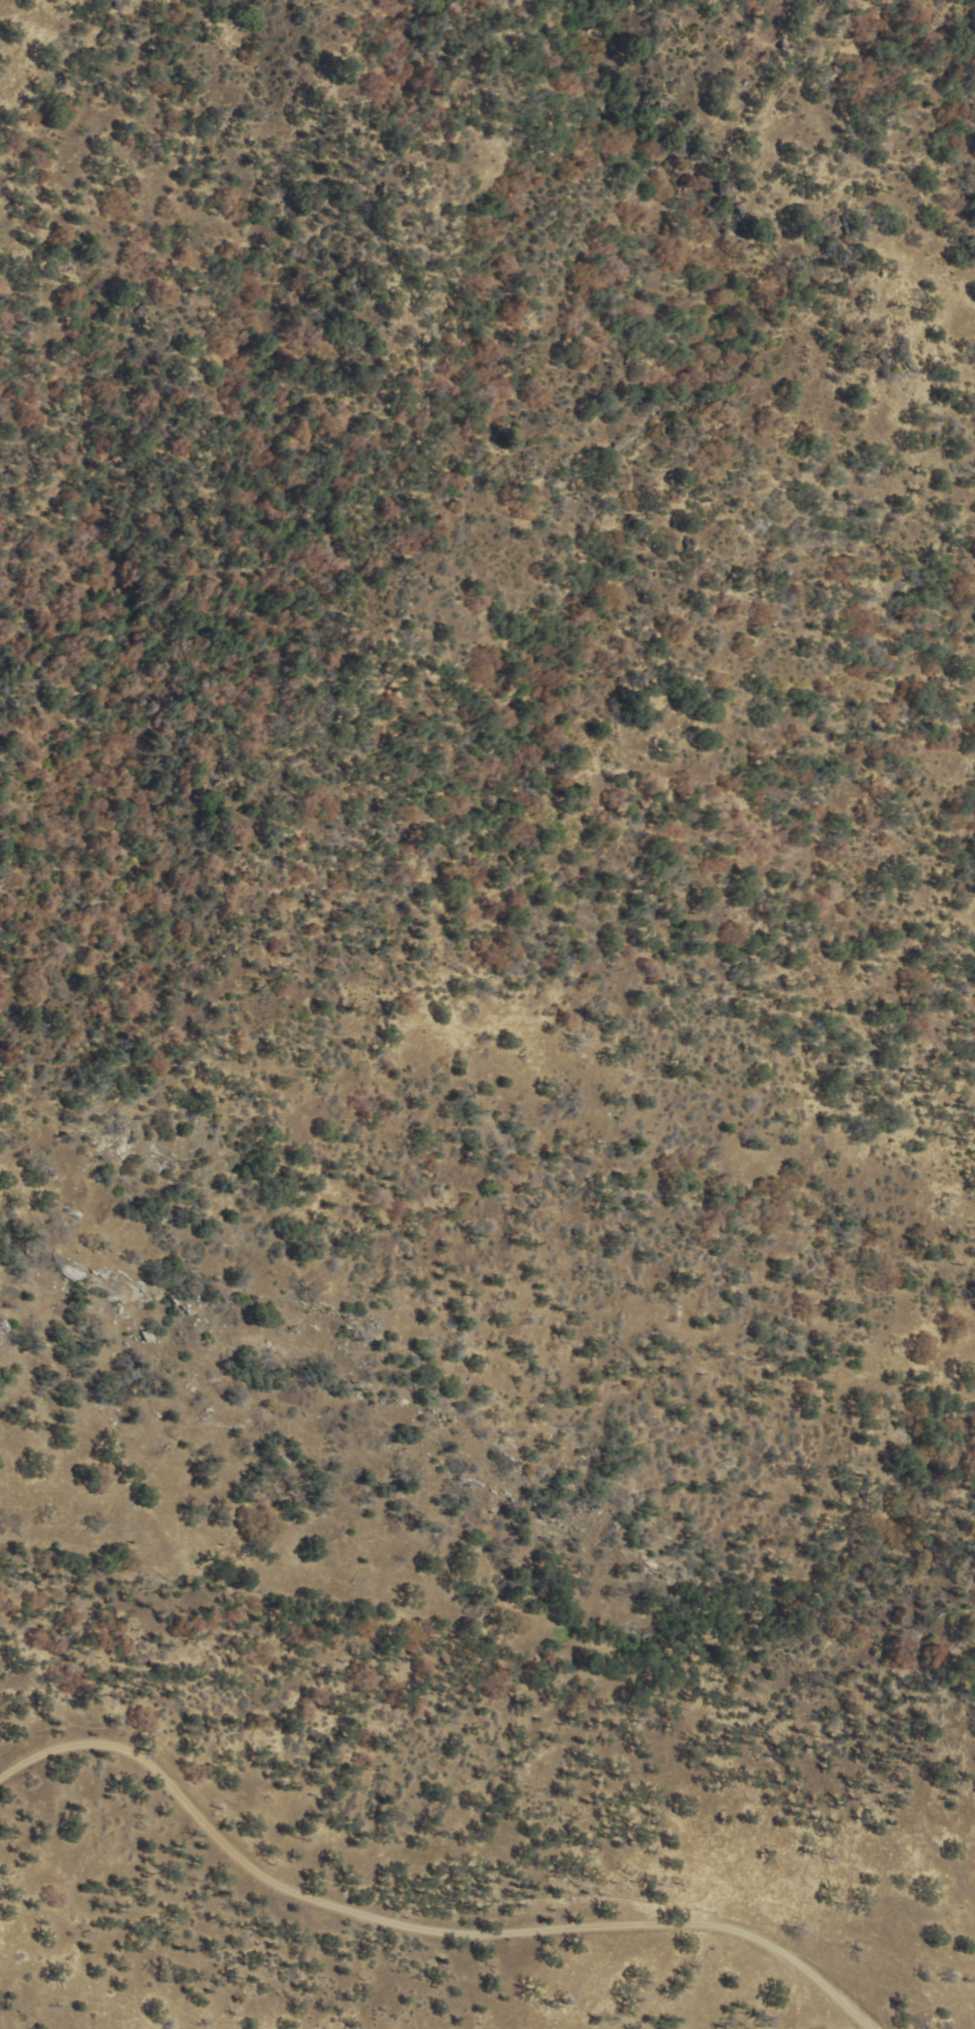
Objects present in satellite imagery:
road: (420, 1930)

